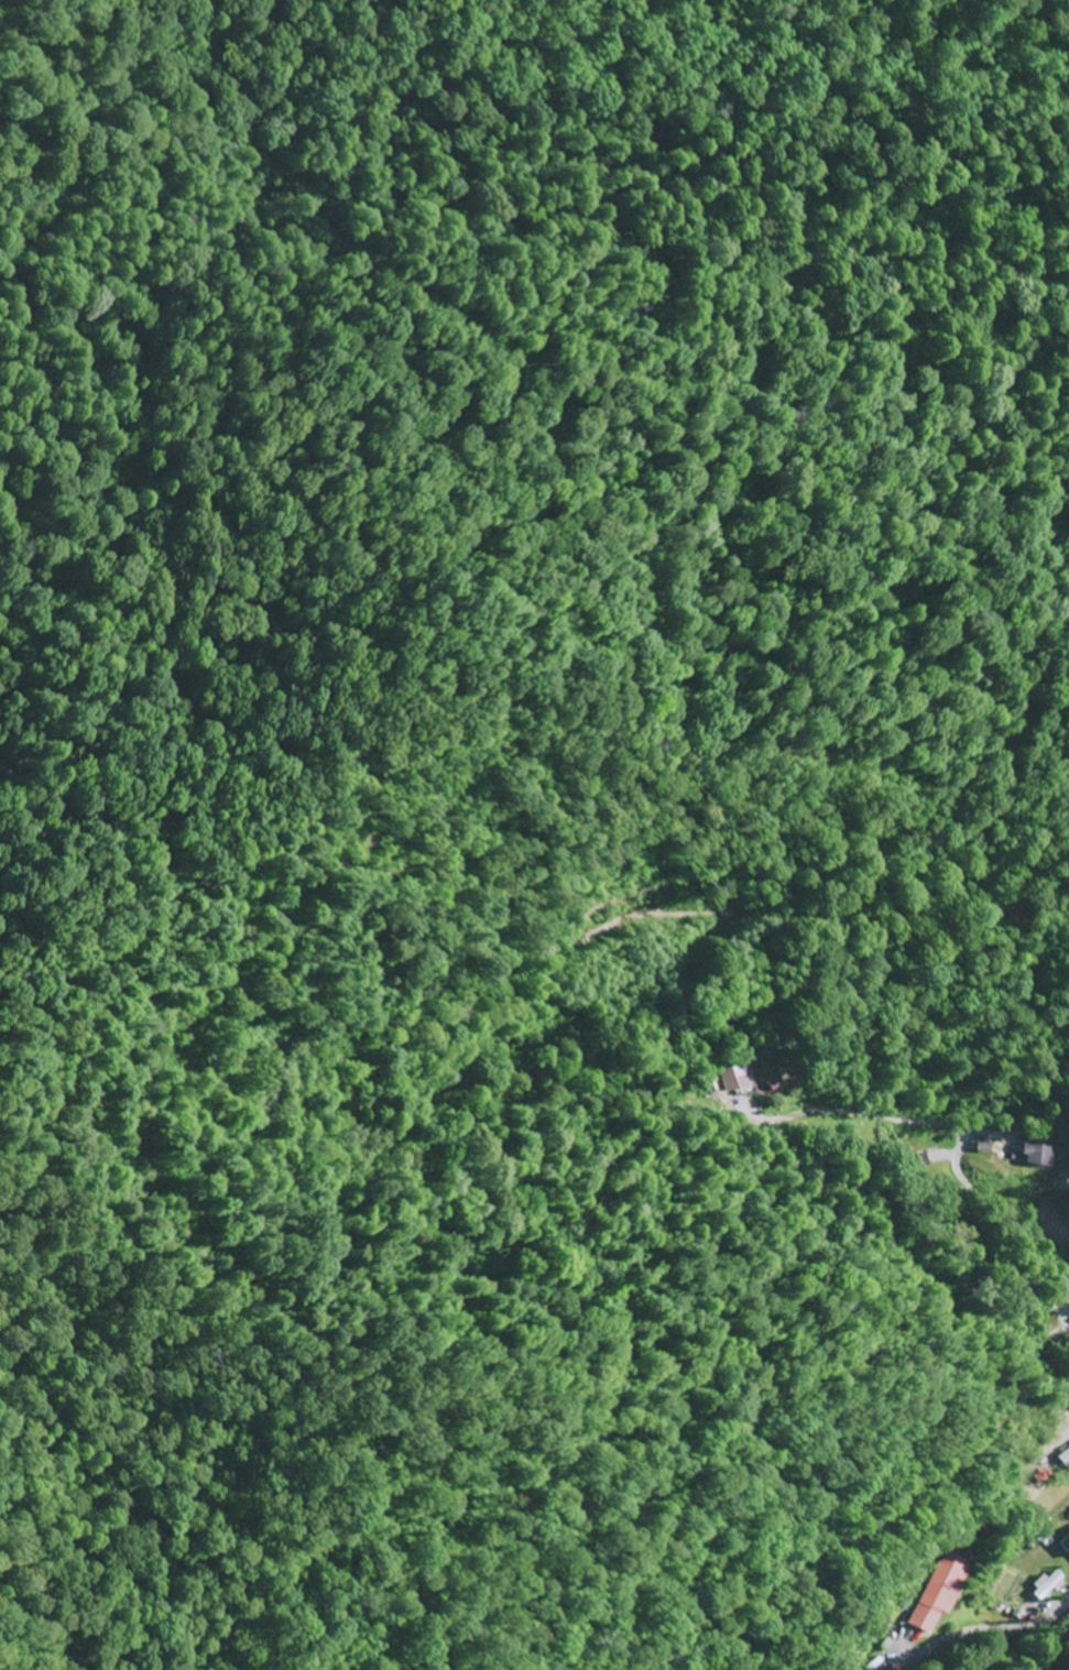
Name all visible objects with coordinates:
building: (732, 1079)
building: (1037, 1151)
building: (919, 1163)
building: (1061, 1456)
building: (1065, 1542)
building: (1045, 1583)
building: (935, 1594)
road: (1059, 1612)

